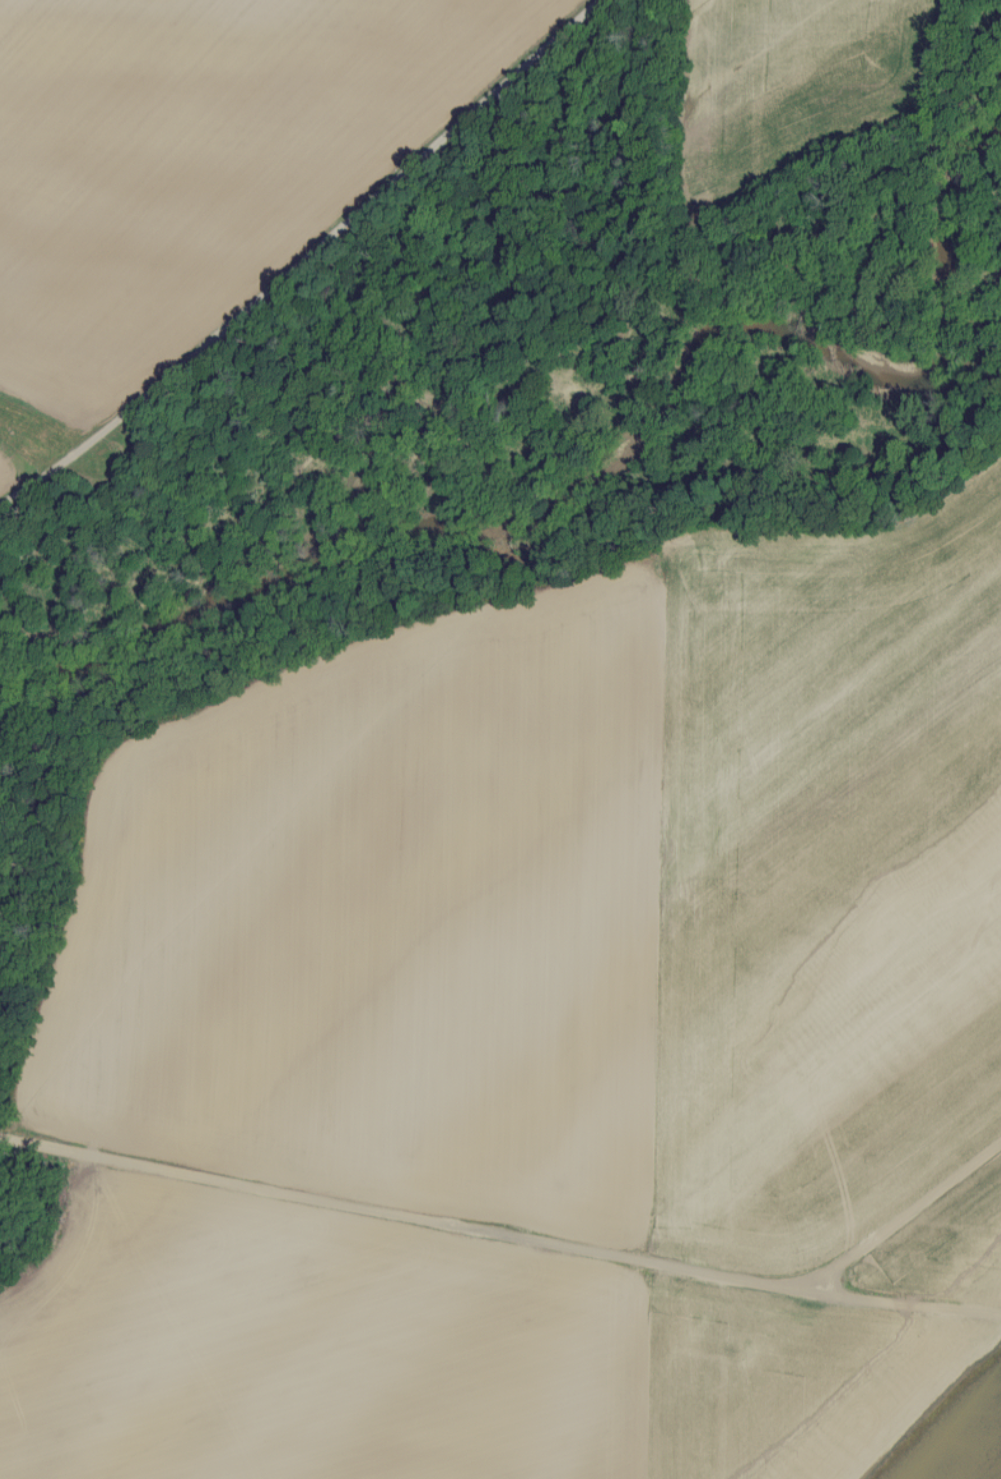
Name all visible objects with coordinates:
road: (299, 256)
road: (905, 1220)
road: (427, 1225)
road: (927, 1313)

